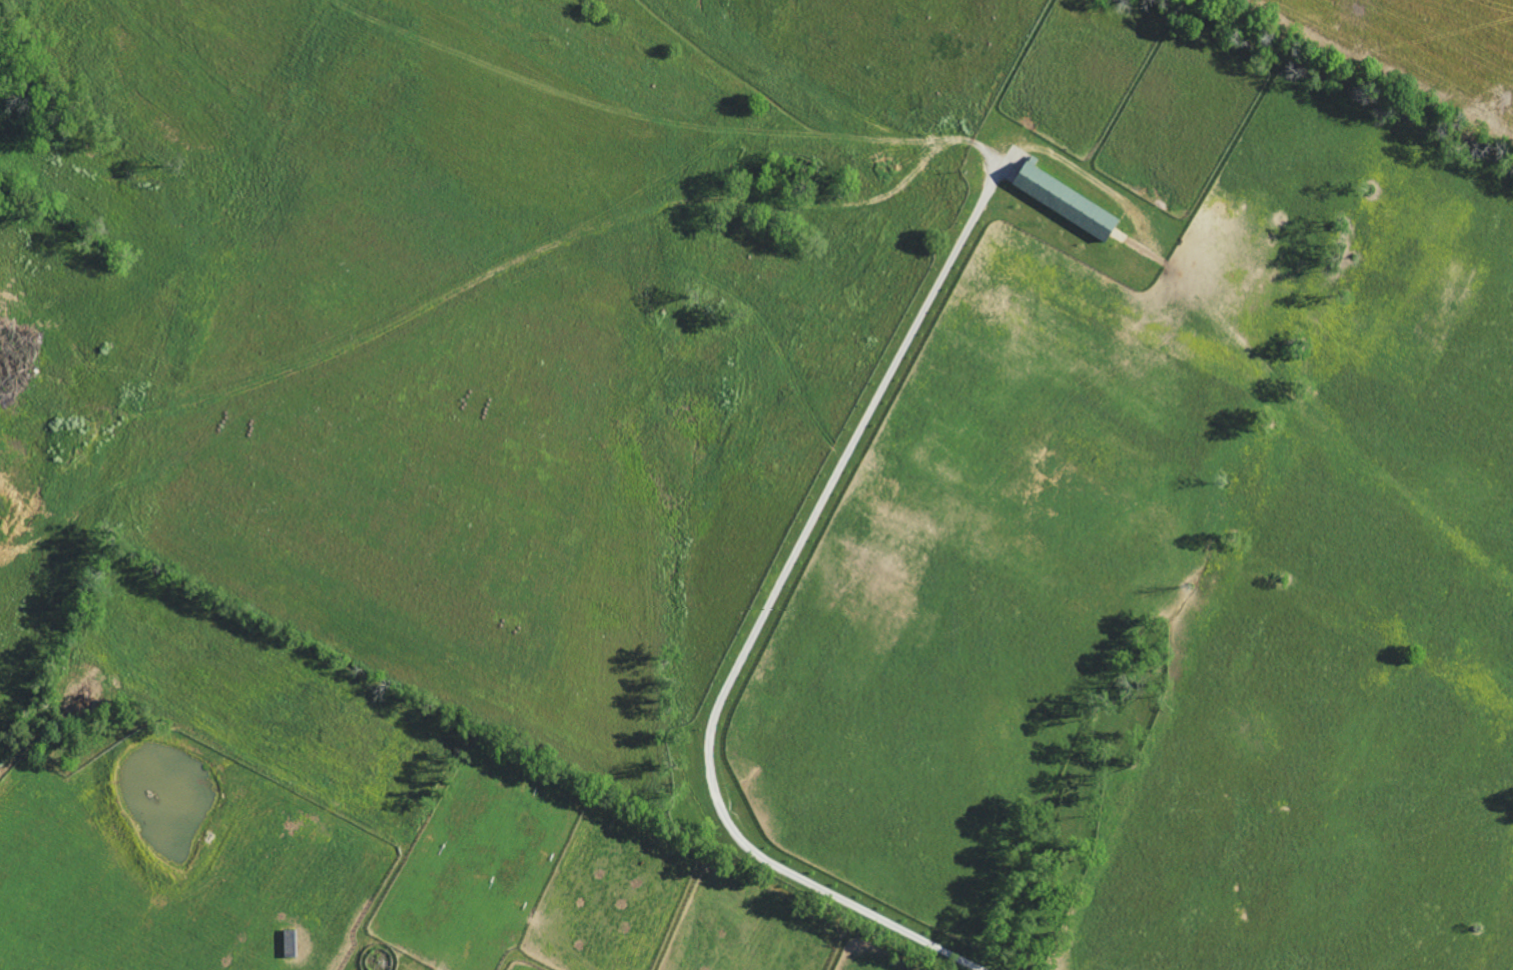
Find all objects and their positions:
building: (1070, 203)
road: (764, 620)

